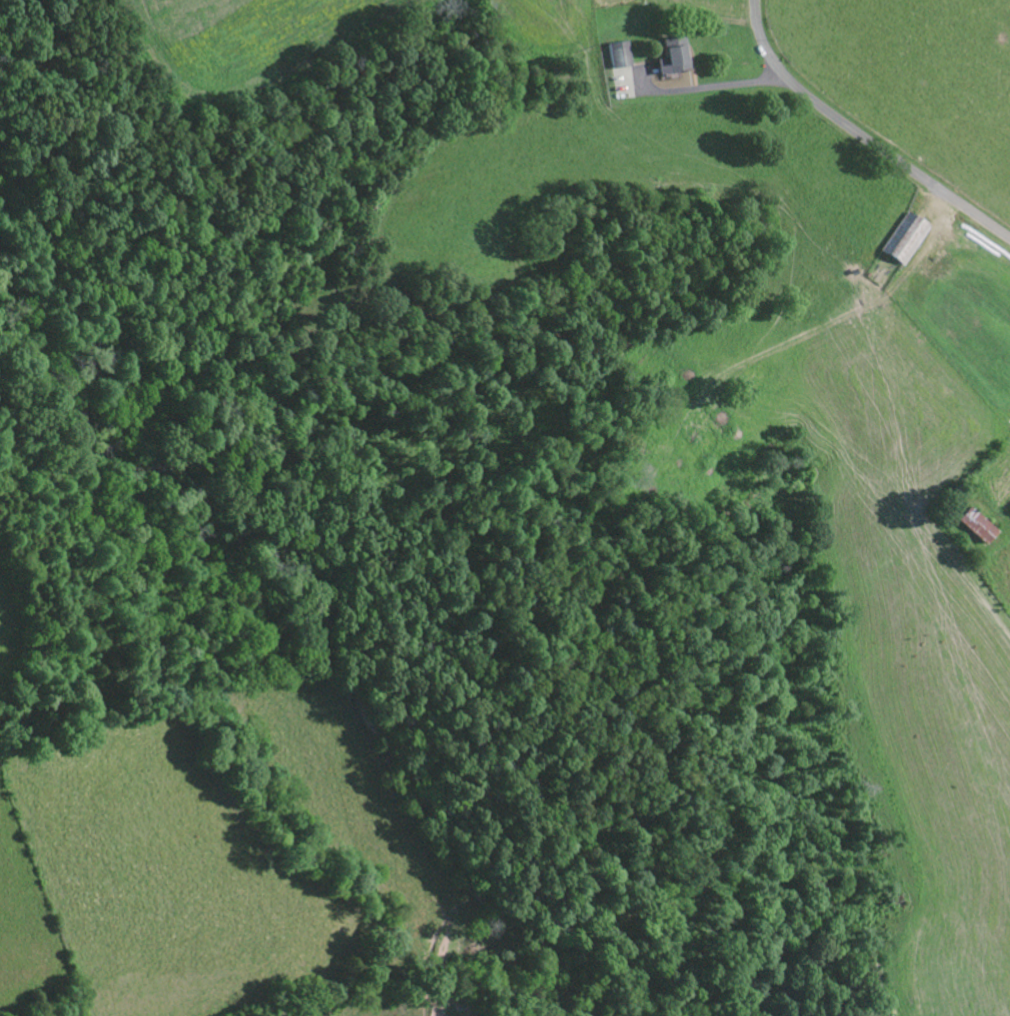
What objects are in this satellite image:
building: (675, 60)
road: (864, 133)
building: (907, 240)
building: (980, 528)

